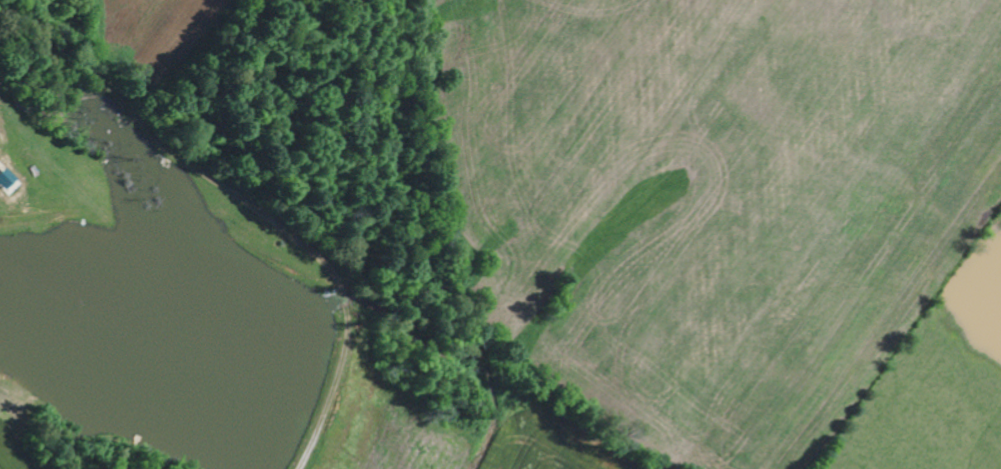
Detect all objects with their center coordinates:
building: (5, 180)

